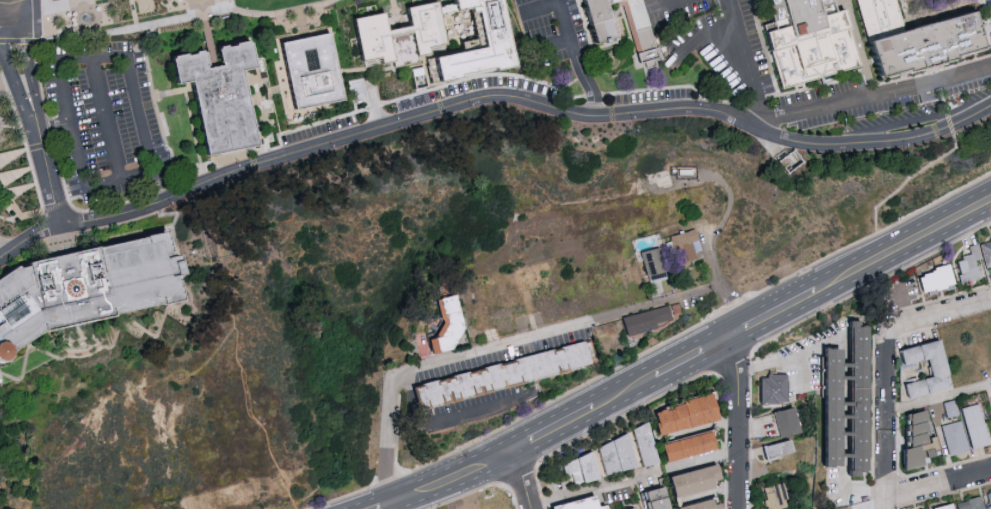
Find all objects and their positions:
road: (837, 2)
road: (34, 5)
road: (660, 6)
road: (22, 8)
road: (544, 8)
parking lot: (988, 8)
road: (11, 14)
road: (394, 15)
road: (301, 20)
road: (764, 20)
road: (934, 20)
road: (132, 21)
road: (987, 21)
road: (11, 22)
road: (902, 23)
parking lot: (548, 27)
road: (921, 27)
road: (0, 28)
road: (206, 33)
road: (851, 34)
building: (394, 37)
building: (598, 37)
road: (708, 37)
parking lot: (708, 40)
building: (807, 41)
building: (916, 41)
road: (552, 42)
road: (118, 56)
road: (577, 60)
road: (745, 64)
road: (870, 65)
road: (31, 73)
building: (307, 74)
road: (13, 76)
road: (8, 84)
road: (886, 84)
road: (780, 92)
road: (161, 95)
building: (215, 97)
road: (941, 97)
parking lot: (647, 98)
road: (769, 99)
road: (873, 99)
parking lot: (881, 100)
parking lot: (408, 106)
road: (104, 118)
parking lot: (106, 121)
road: (909, 124)
road: (194, 136)
road: (797, 144)
road: (296, 152)
road: (19, 153)
road: (41, 156)
park: (15, 172)
road: (22, 173)
road: (84, 187)
road: (28, 189)
road: (55, 205)
road: (20, 218)
road: (9, 220)
road: (174, 235)
road: (870, 238)
road: (904, 248)
road: (4, 252)
building: (973, 260)
building: (657, 264)
road: (181, 276)
building: (535, 276)
building: (932, 279)
building: (81, 289)
road: (726, 297)
road: (904, 304)
road: (730, 308)
road: (938, 315)
road: (776, 316)
road: (188, 318)
building: (650, 319)
building: (453, 327)
road: (556, 332)
building: (26, 351)
road: (96, 353)
road: (695, 358)
road: (789, 361)
building: (933, 370)
road: (240, 371)
road: (805, 373)
building: (499, 378)
building: (771, 389)
road: (626, 395)
road: (558, 399)
building: (857, 400)
road: (939, 400)
building: (828, 410)
building: (687, 417)
road: (445, 419)
road: (888, 419)
building: (784, 421)
road: (736, 423)
building: (973, 425)
road: (703, 428)
road: (555, 432)
building: (953, 437)
building: (914, 441)
road: (387, 443)
building: (642, 446)
building: (775, 448)
building: (687, 449)
building: (614, 456)
road: (703, 461)
building: (580, 470)
road: (455, 480)
road: (388, 481)
road: (522, 481)
building: (695, 483)
road: (939, 486)
road: (595, 491)
road: (851, 492)
road: (709, 496)
building: (773, 496)
road: (342, 499)
building: (660, 499)
building: (988, 499)
building: (969, 503)
building: (588, 504)
building: (706, 506)
building: (942, 506)
road: (393, 508)

